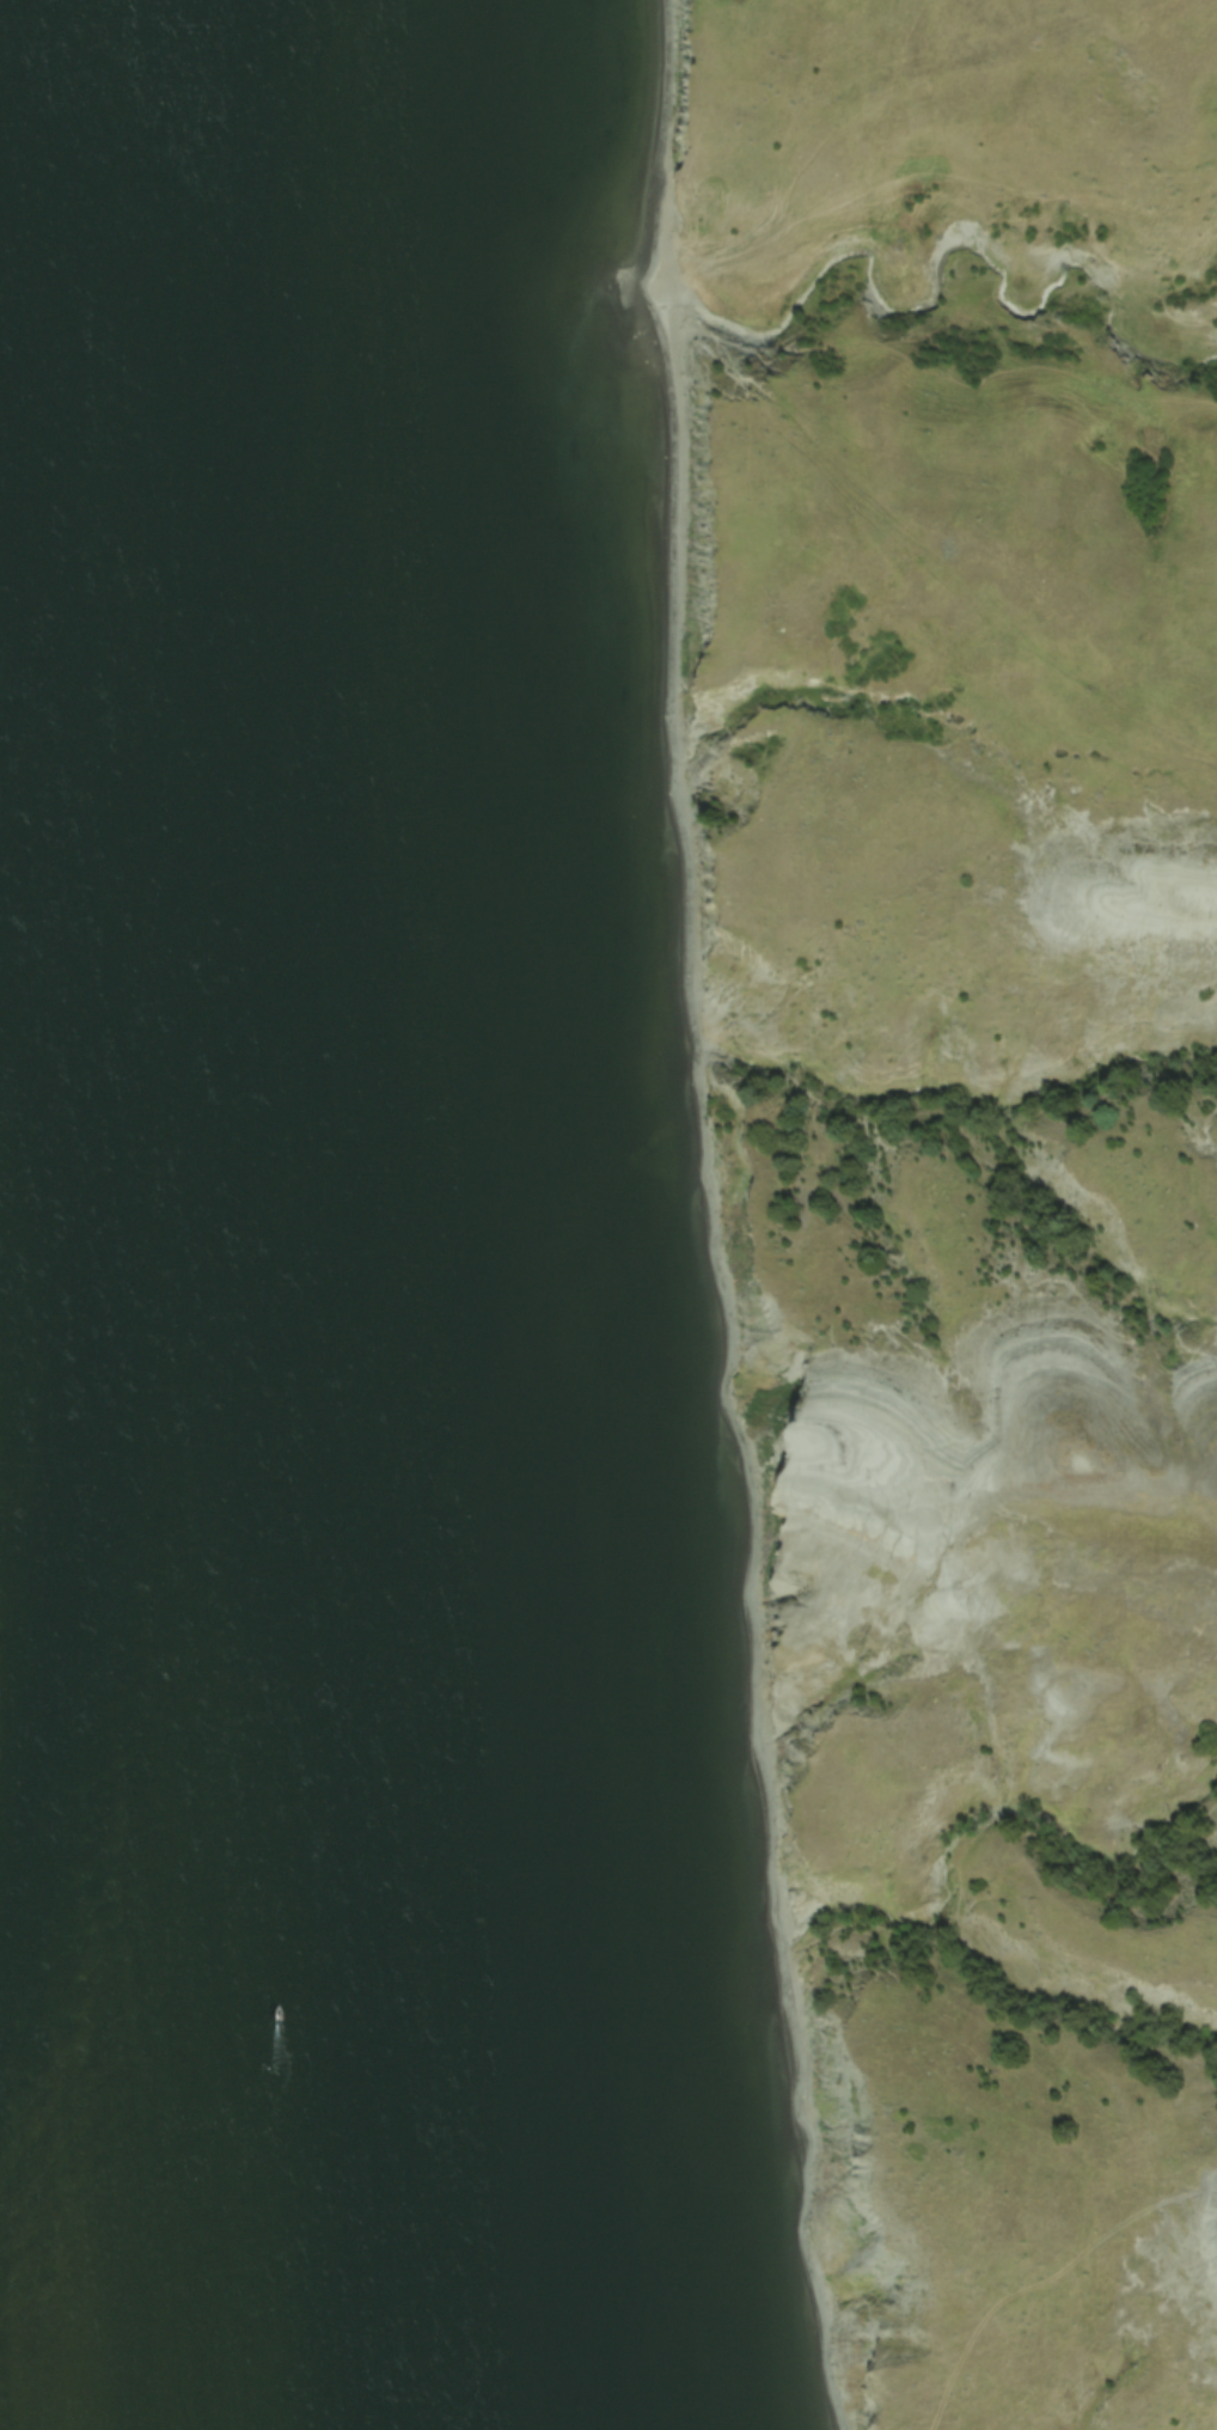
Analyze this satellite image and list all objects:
river: (13, 2322)

